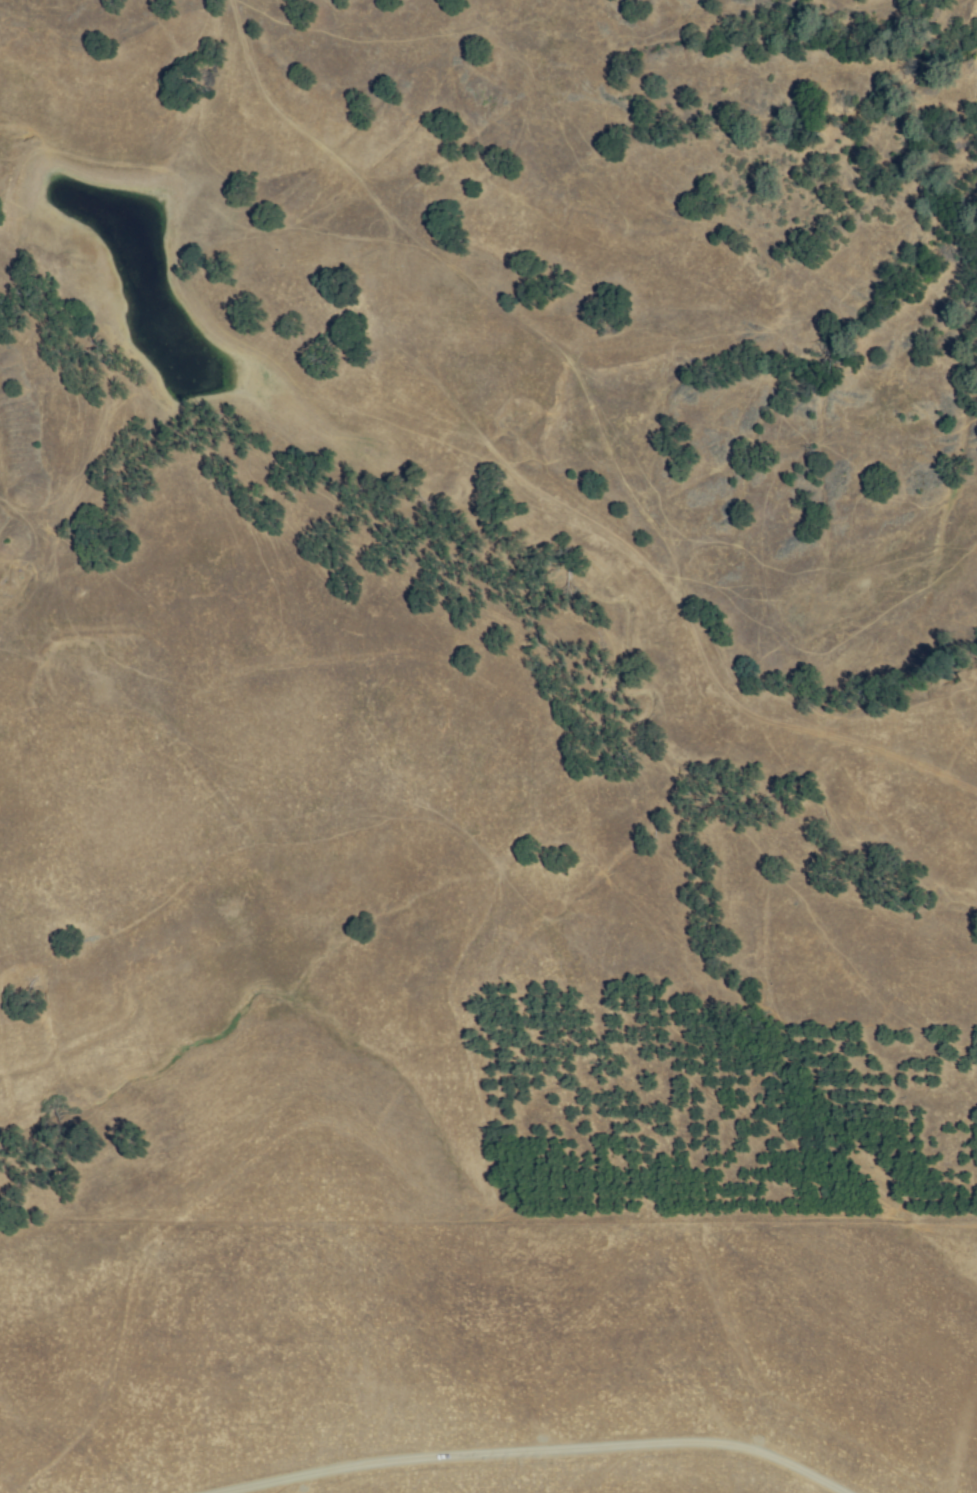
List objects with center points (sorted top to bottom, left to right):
road: (537, 1454)

